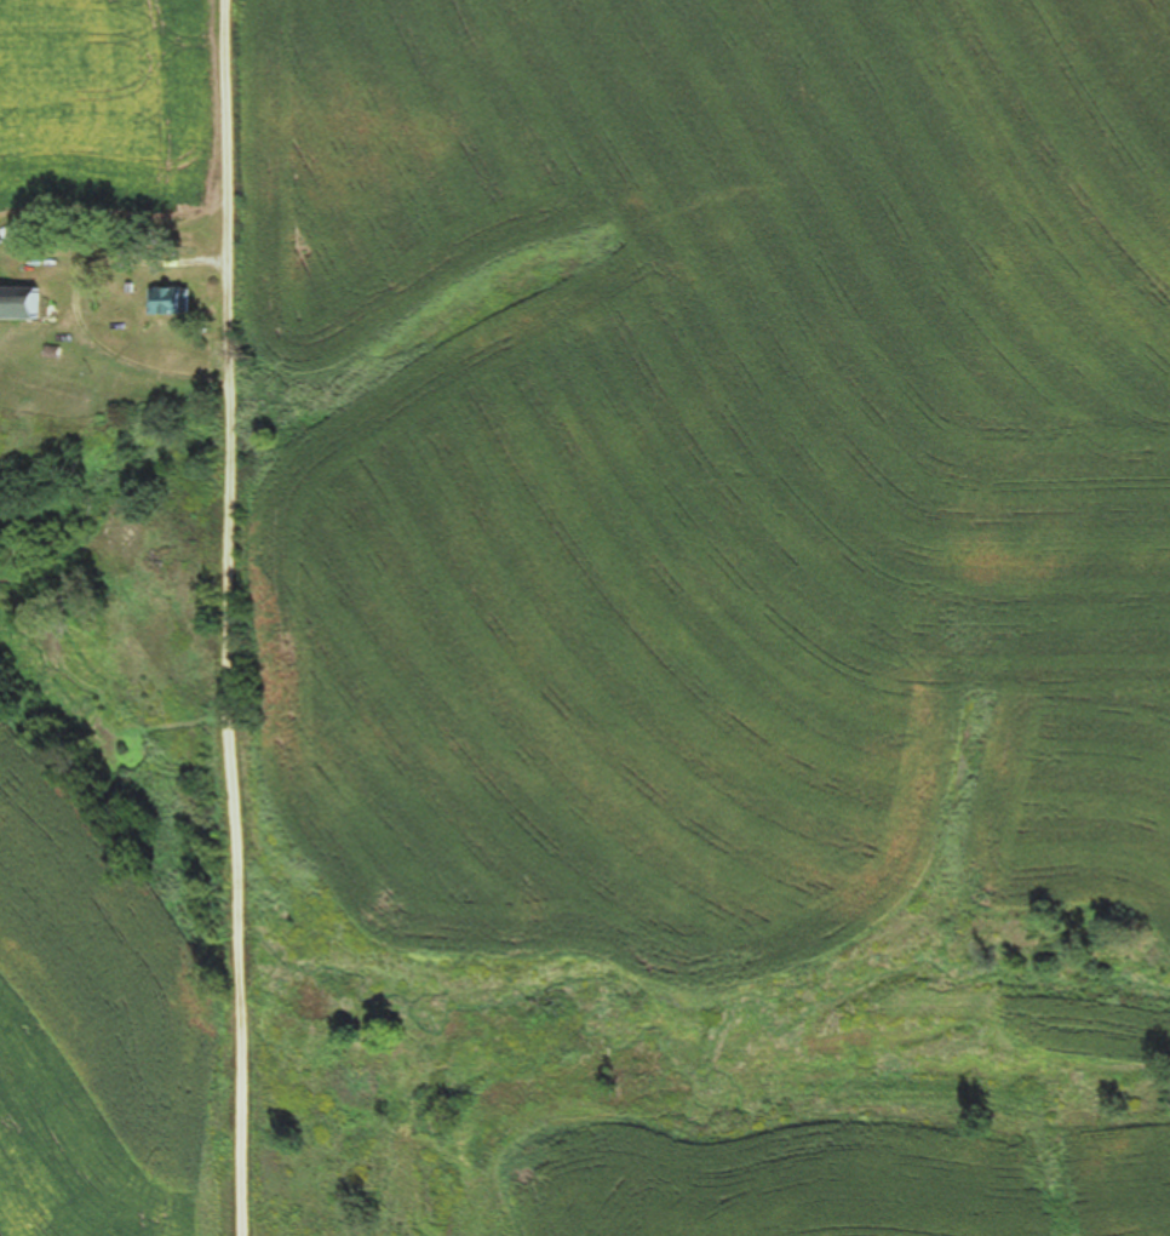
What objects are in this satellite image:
building: (168, 301)
building: (25, 303)
road: (213, 618)

